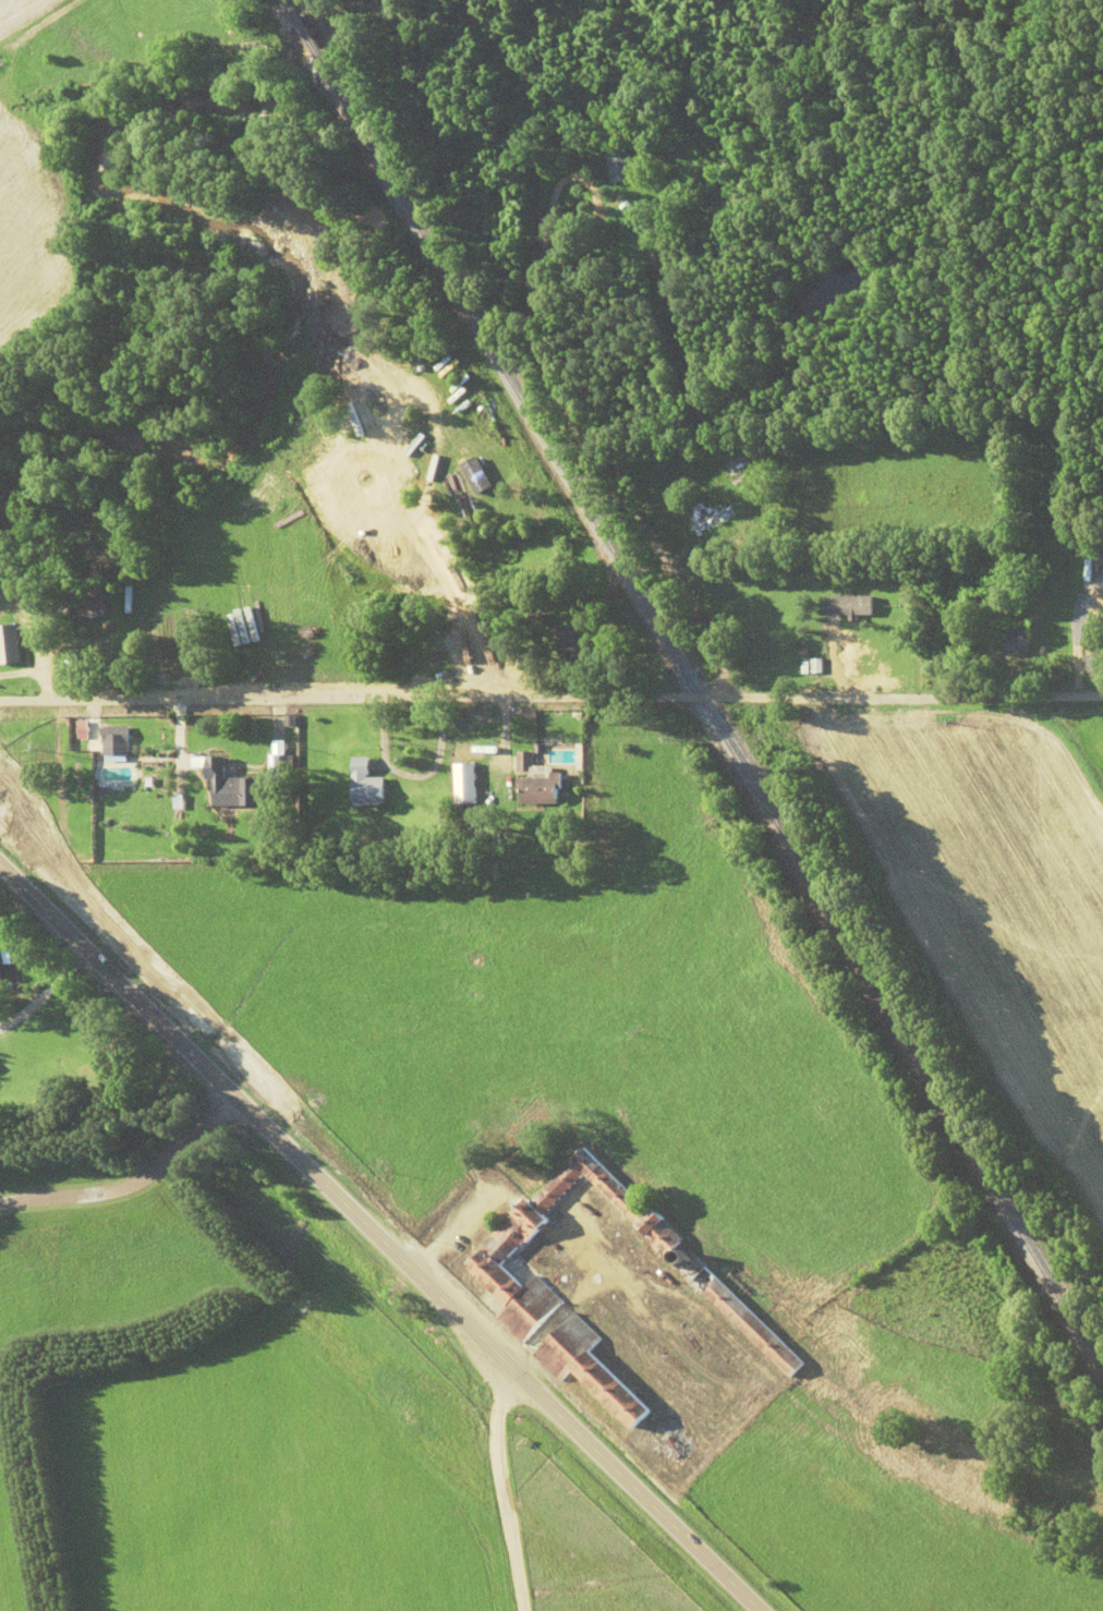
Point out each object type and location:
building: (623, 162)
road: (597, 446)
building: (706, 518)
building: (1093, 567)
building: (84, 605)
building: (850, 606)
building: (570, 641)
building: (1016, 642)
building: (11, 644)
building: (1093, 663)
railway: (694, 689)
road: (350, 699)
road: (900, 699)
building: (89, 729)
building: (116, 741)
building: (538, 782)
building: (466, 784)
building: (367, 785)
building: (232, 786)
building: (2, 965)
road: (48, 993)
road: (129, 1187)
road: (357, 1245)
building: (528, 1295)
building: (749, 1322)
building: (670, 1448)
road: (475, 1486)

